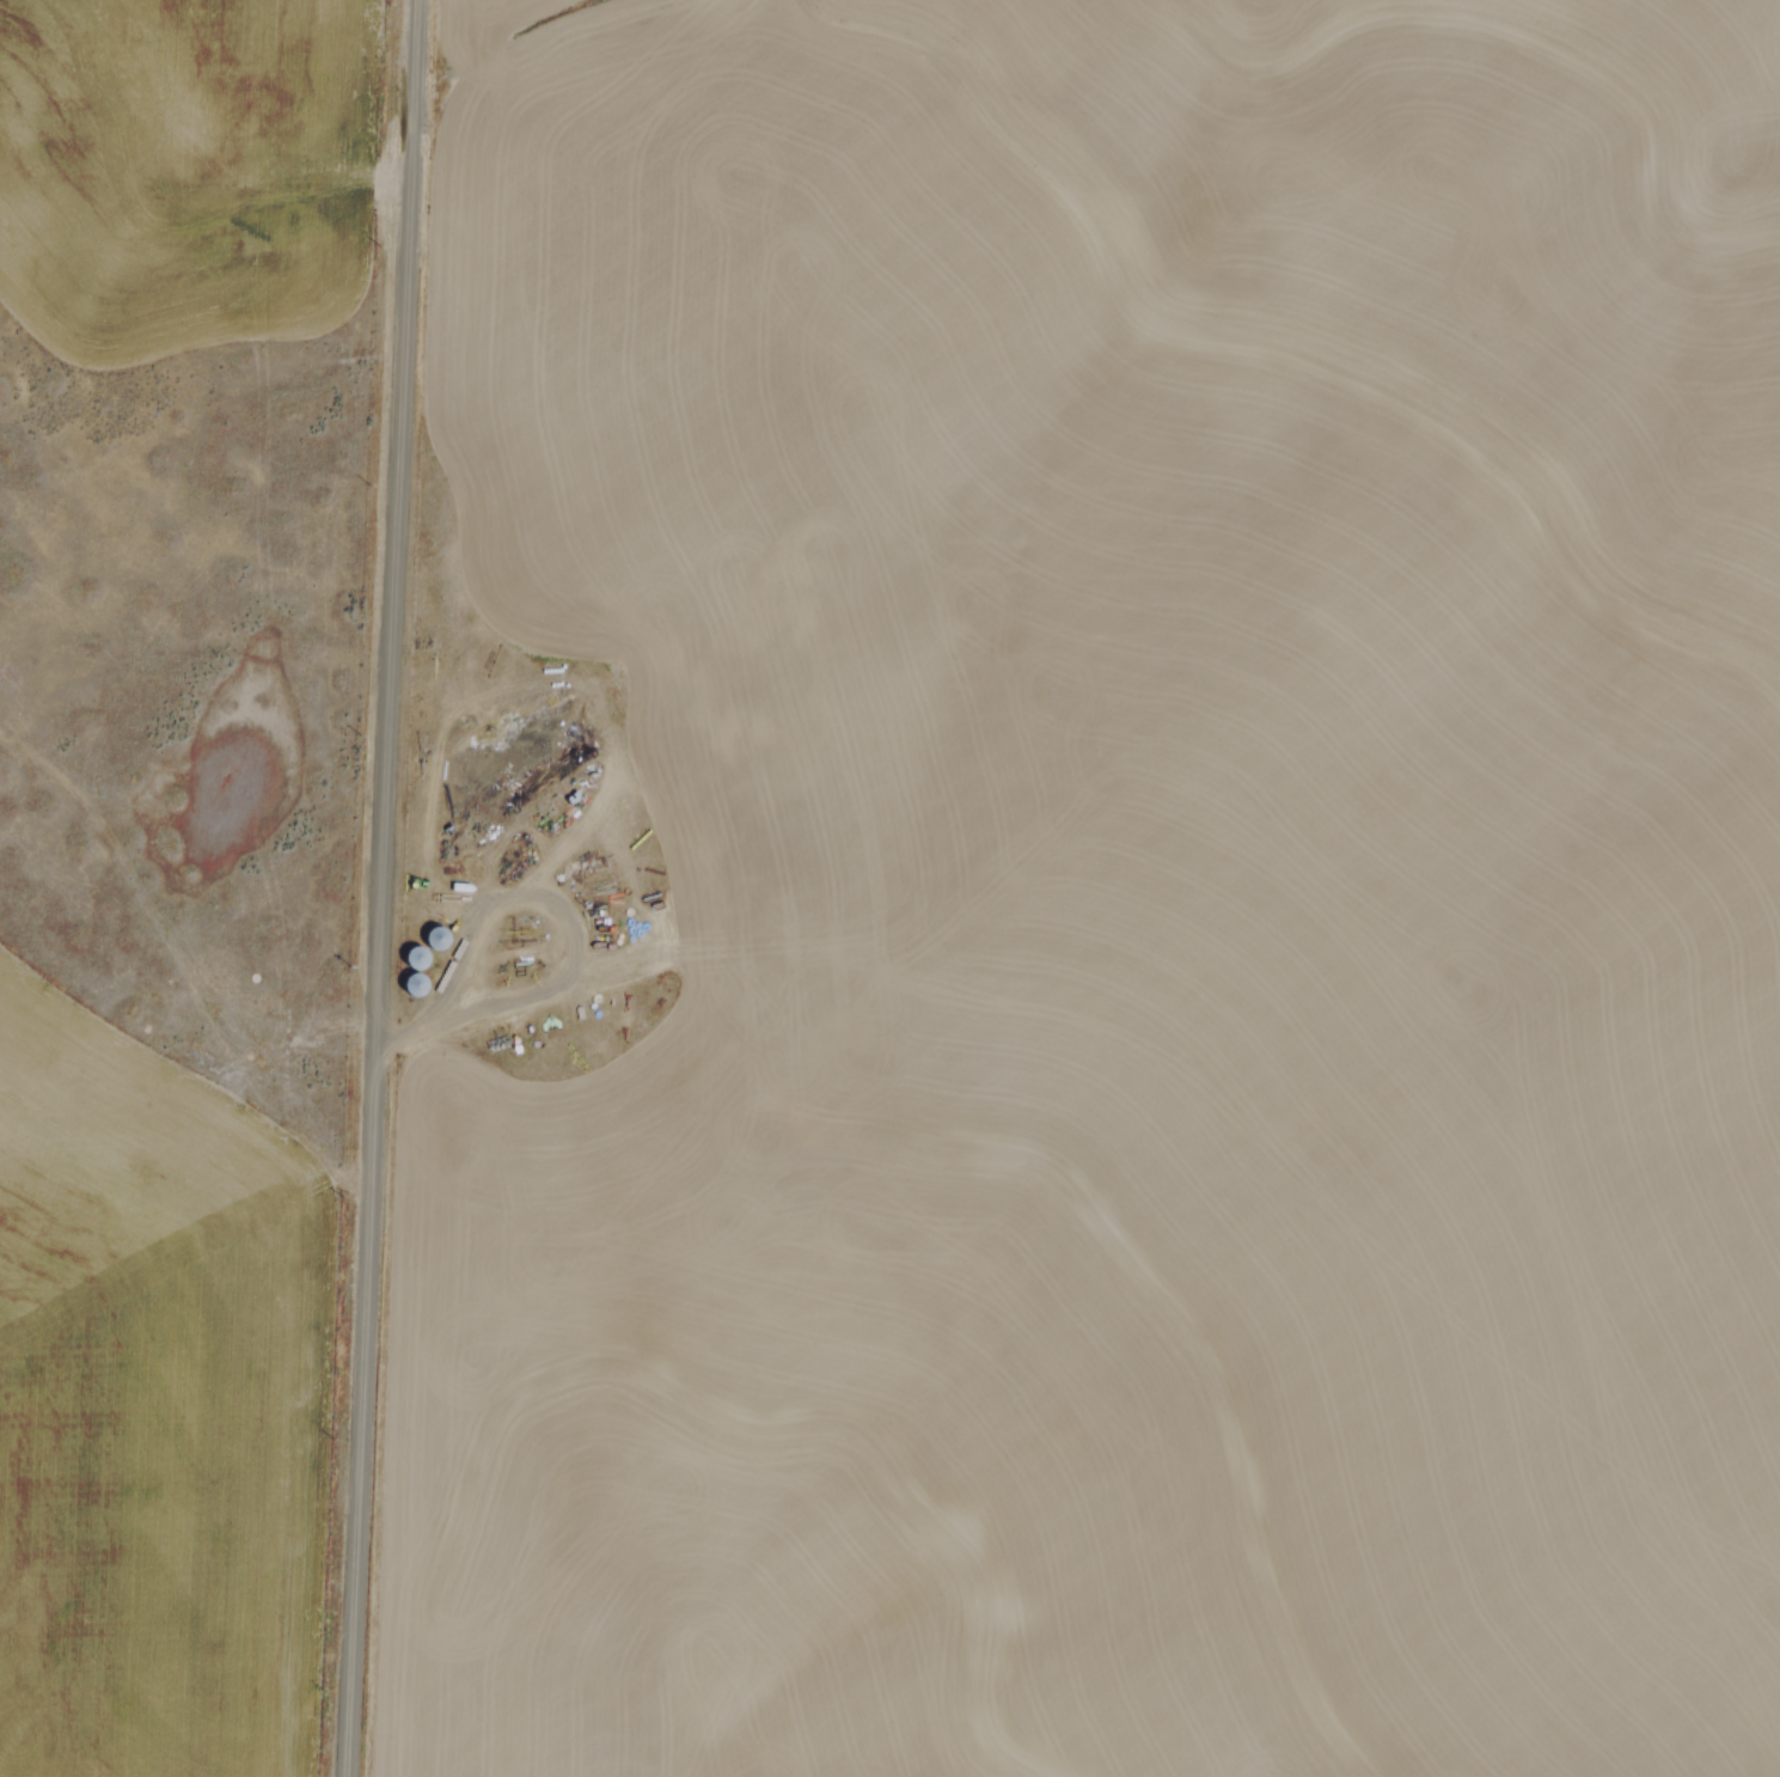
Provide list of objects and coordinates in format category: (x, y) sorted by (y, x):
road: (385, 888)

